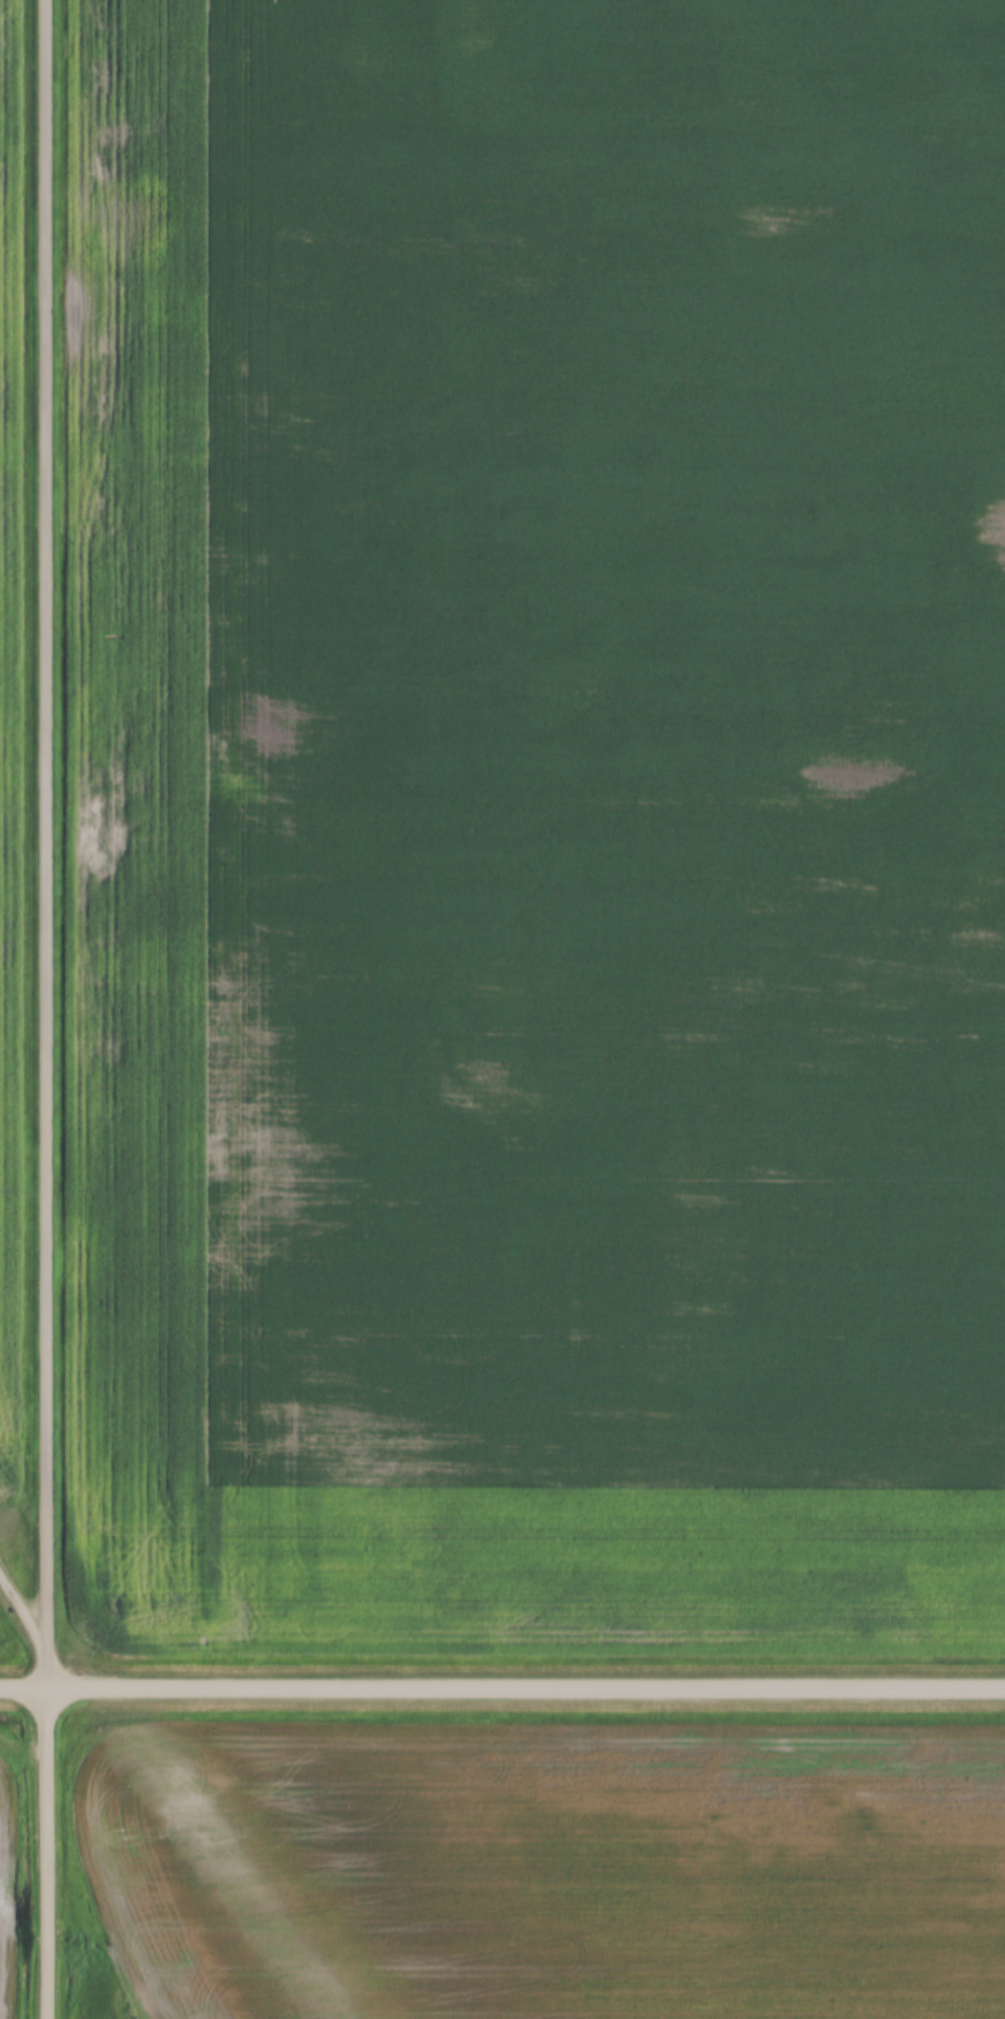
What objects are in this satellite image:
road: (49, 1009)
road: (25, 1604)
road: (502, 1686)

